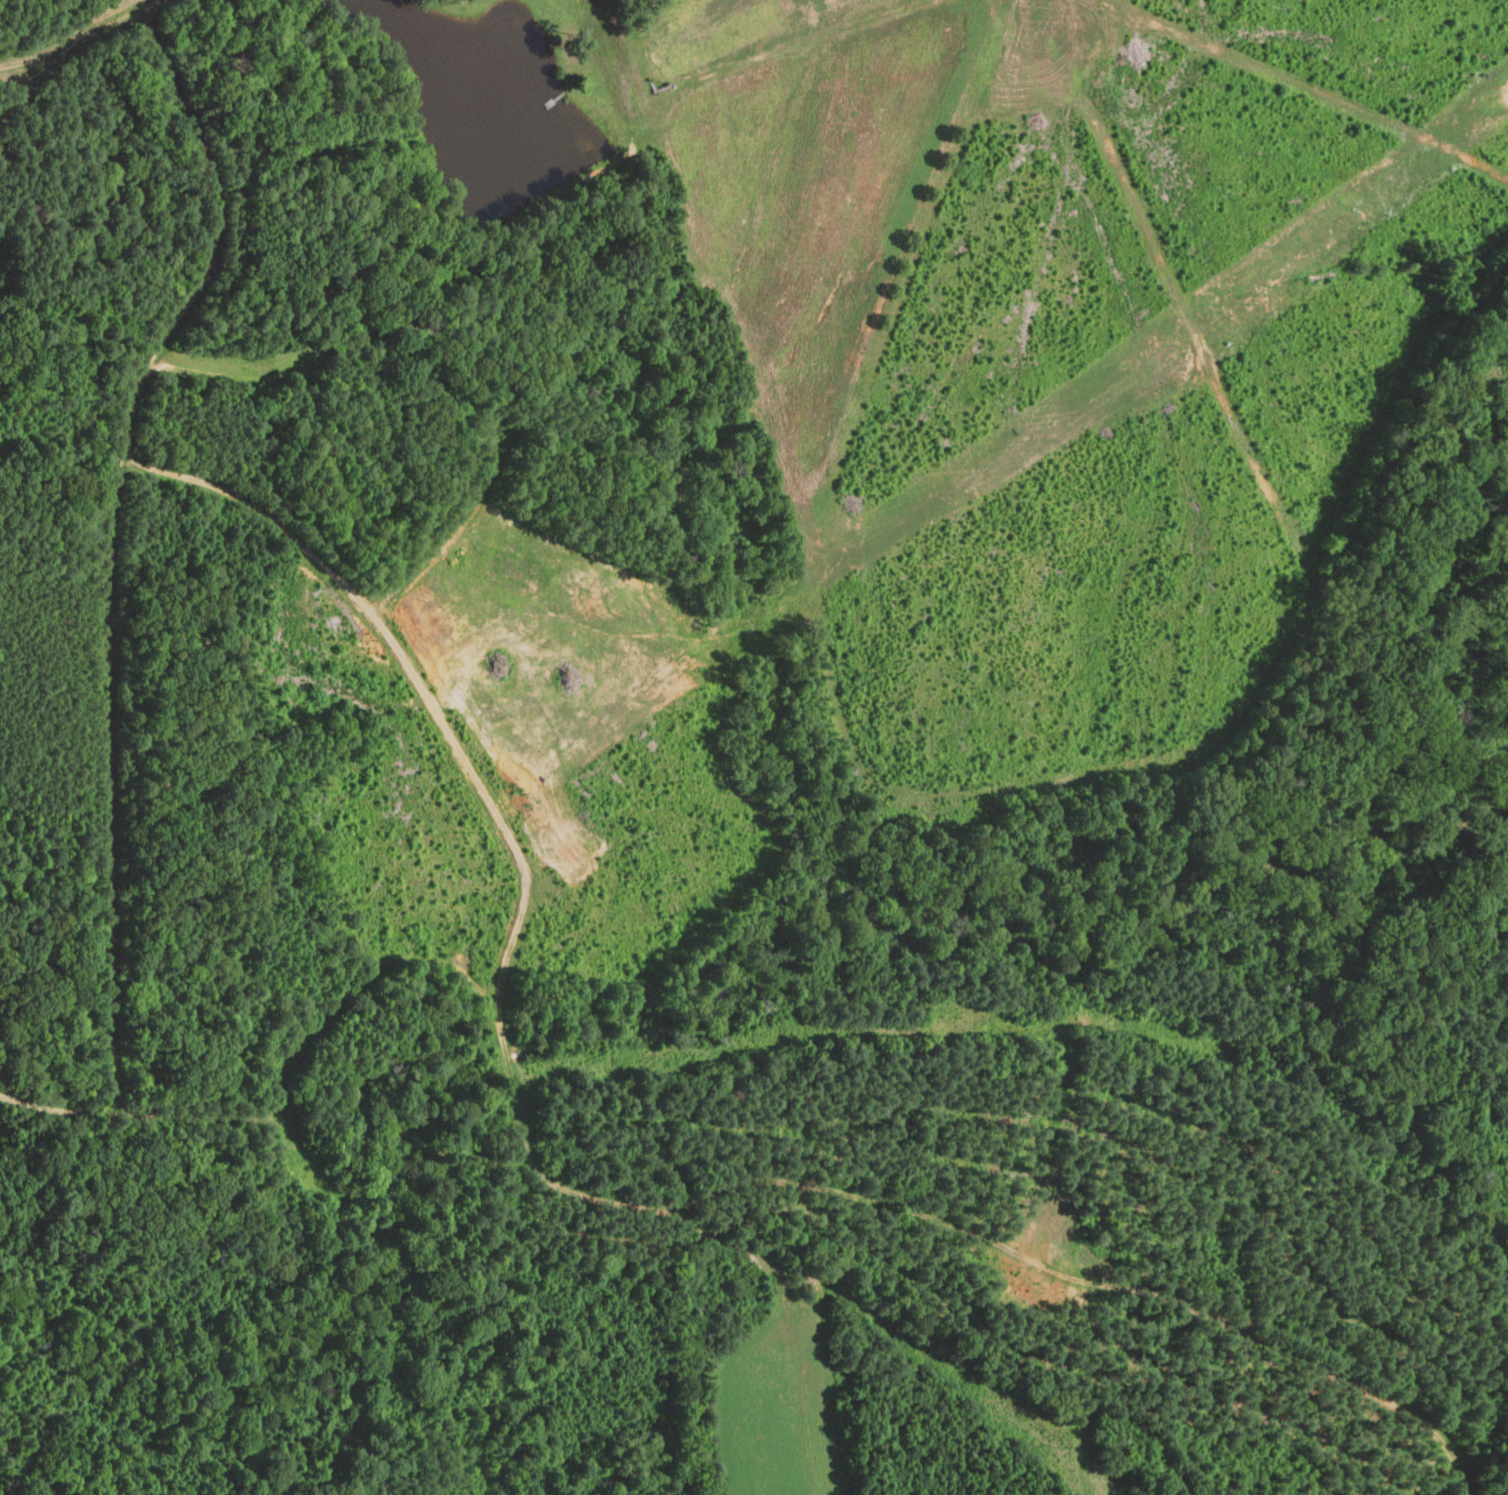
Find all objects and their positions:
road: (83, 39)
road: (110, 594)
road: (503, 967)

